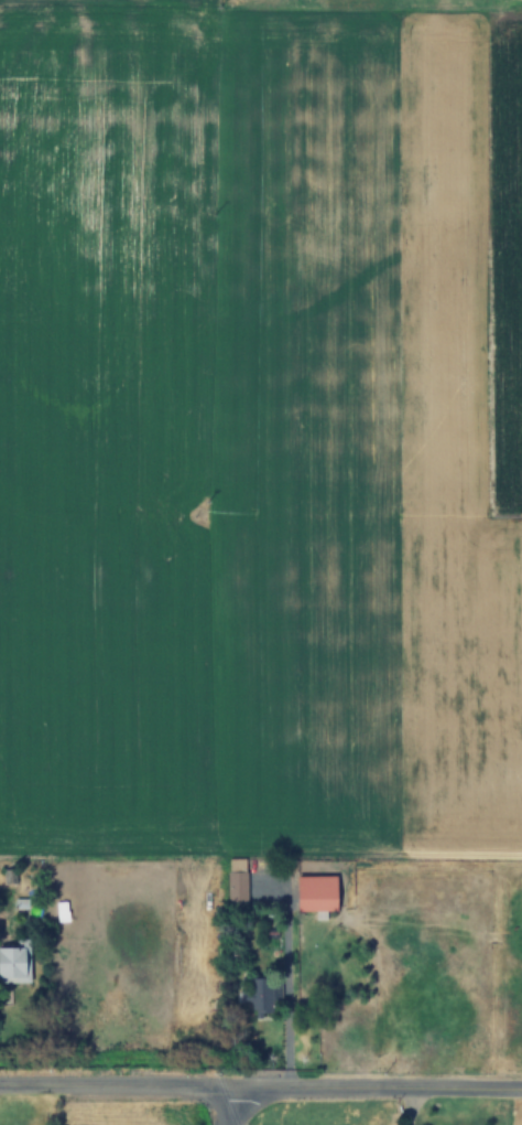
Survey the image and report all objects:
building: (237, 882)
building: (315, 892)
building: (15, 962)
building: (259, 995)
road: (261, 1083)
road: (225, 1104)
crop: (513, 1111)

